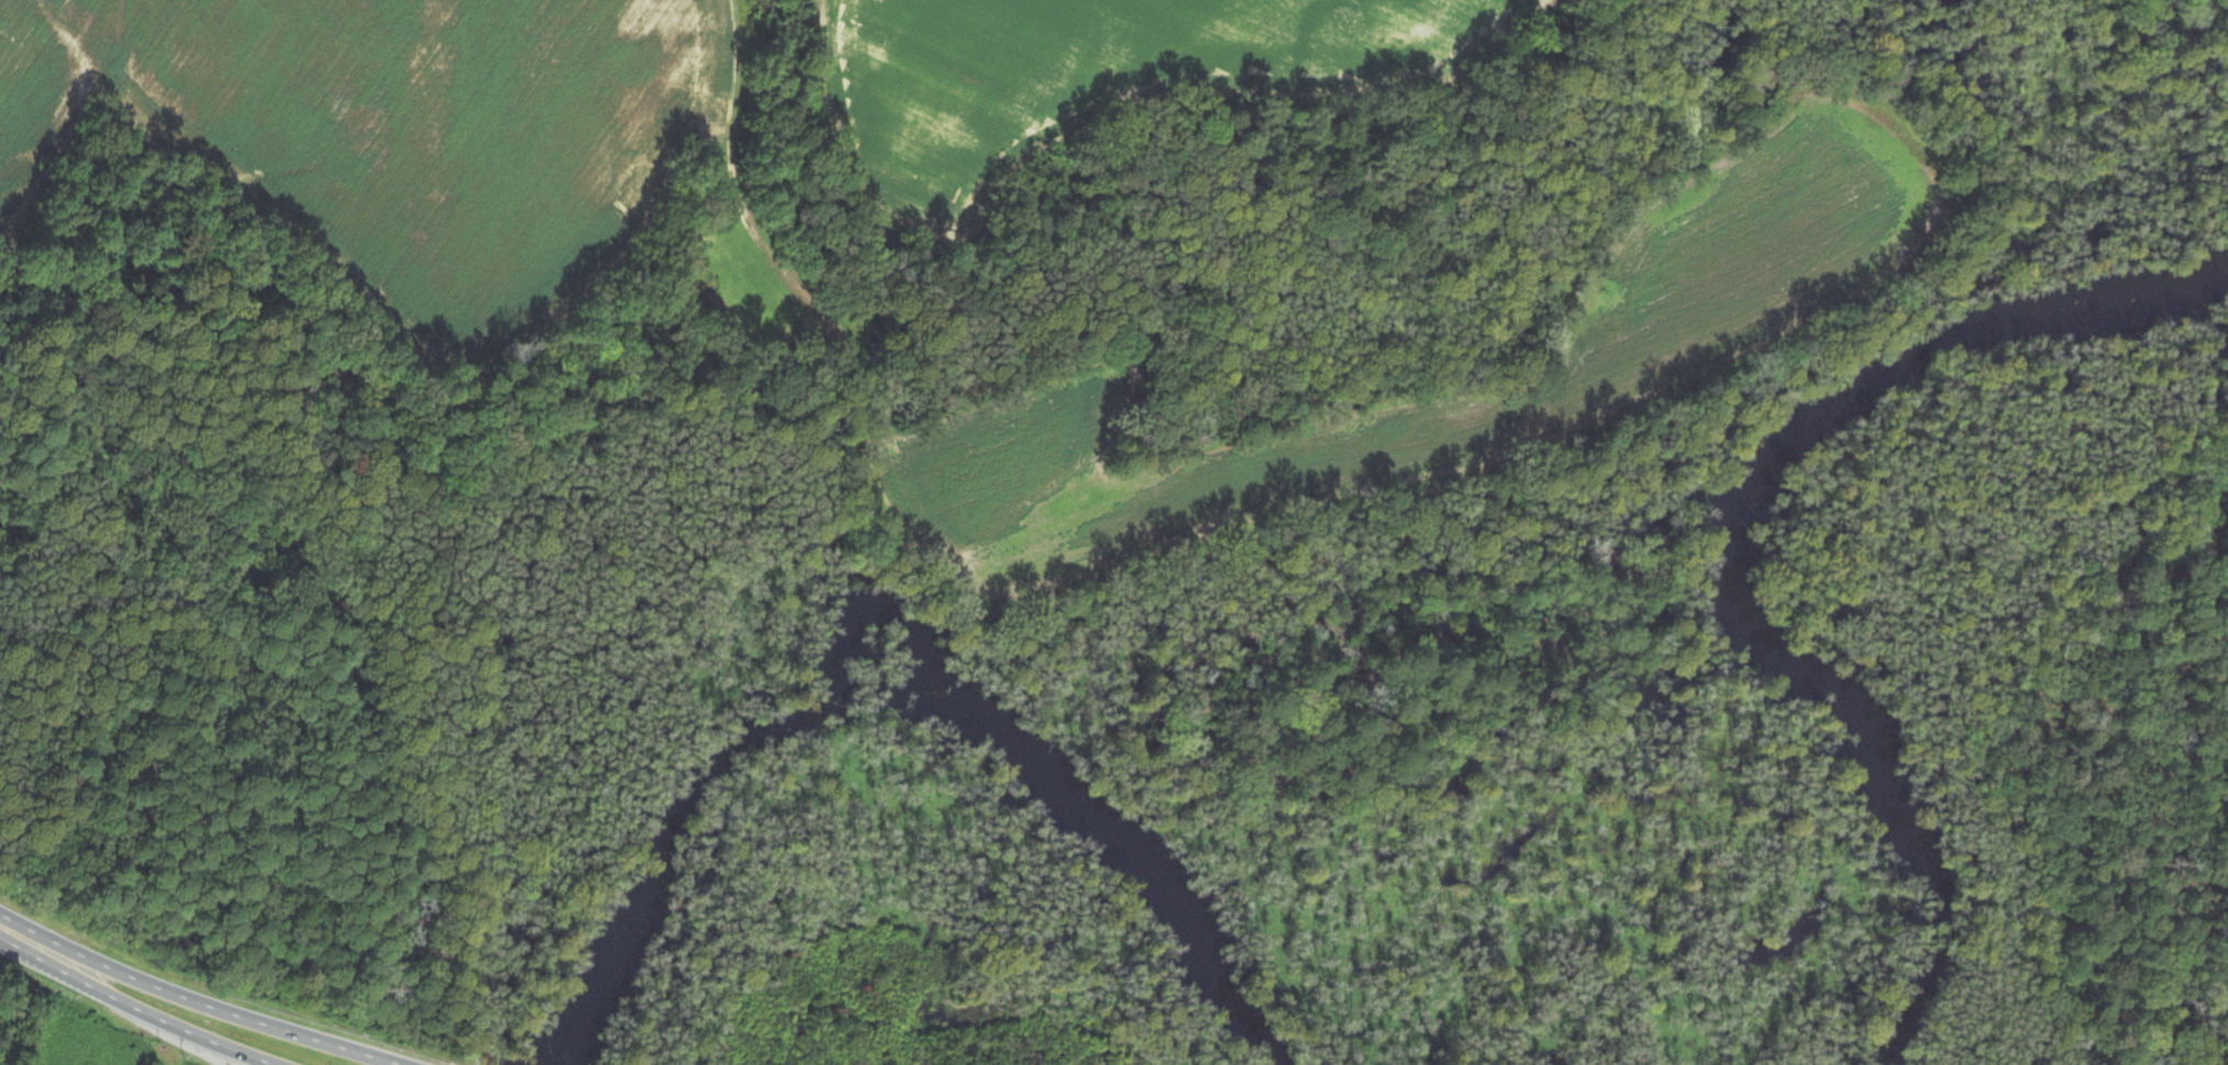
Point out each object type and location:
road: (3, 933)
road: (195, 1006)
road: (132, 1008)

